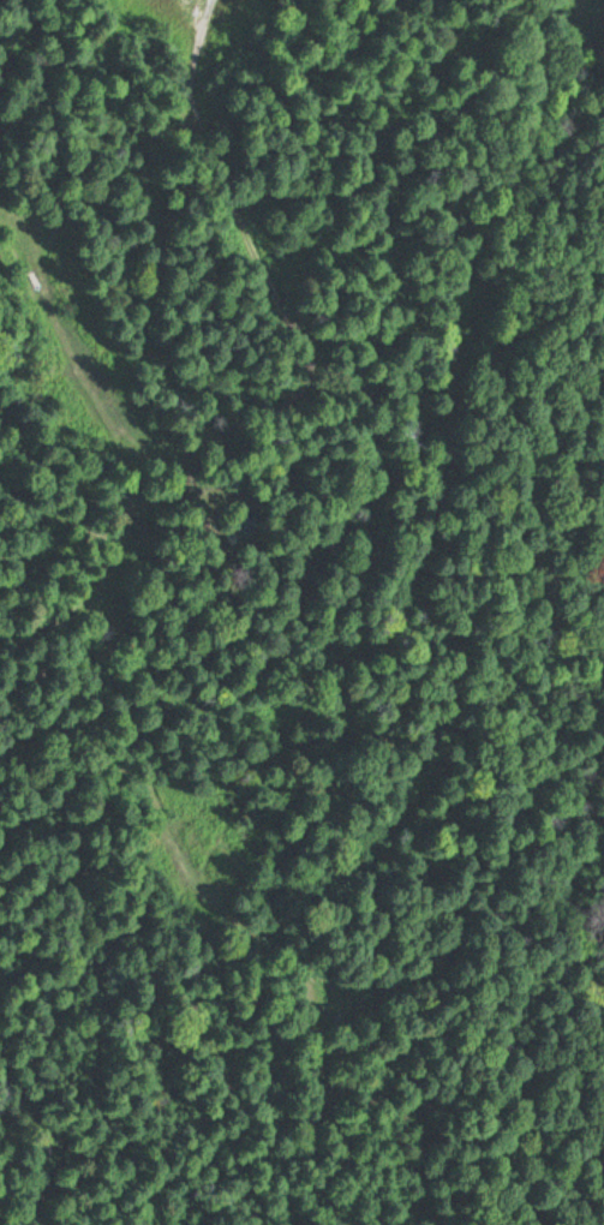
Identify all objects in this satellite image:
building: (243, 526)

